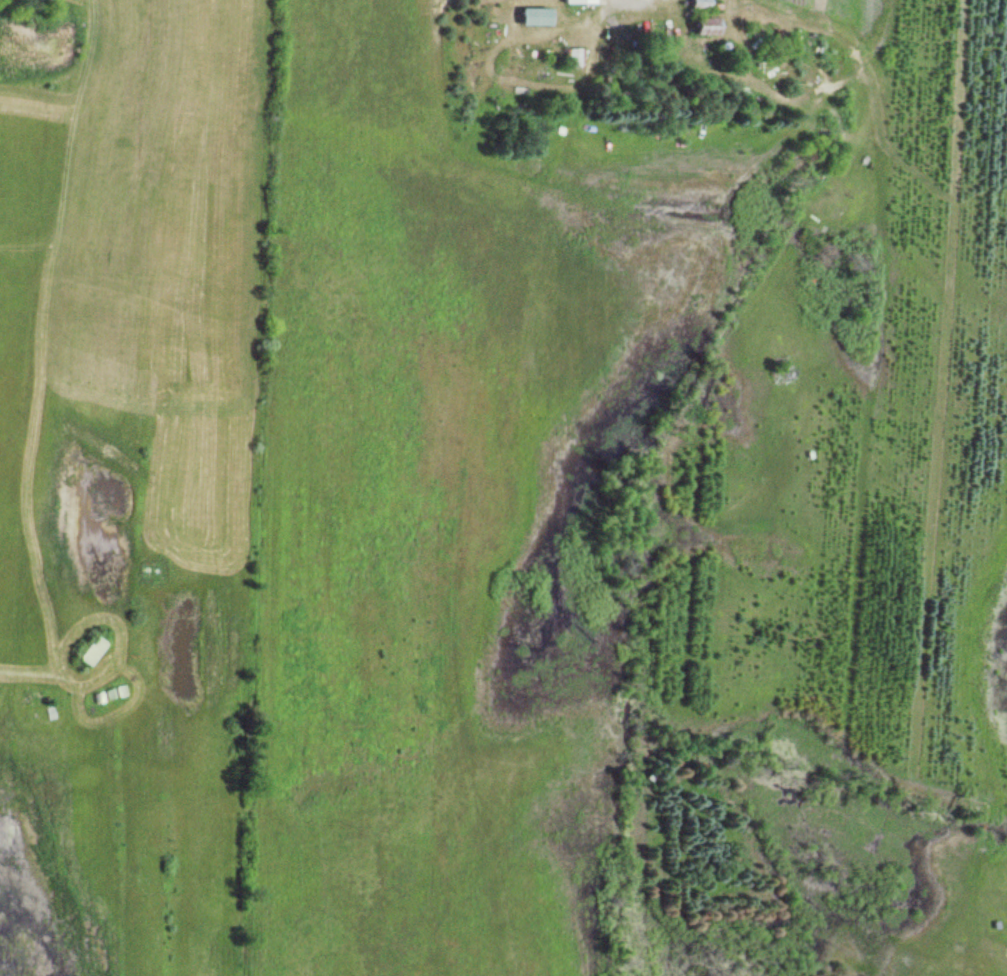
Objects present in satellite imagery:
building: (576, 1)
building: (695, 4)
building: (528, 16)
building: (700, 25)

